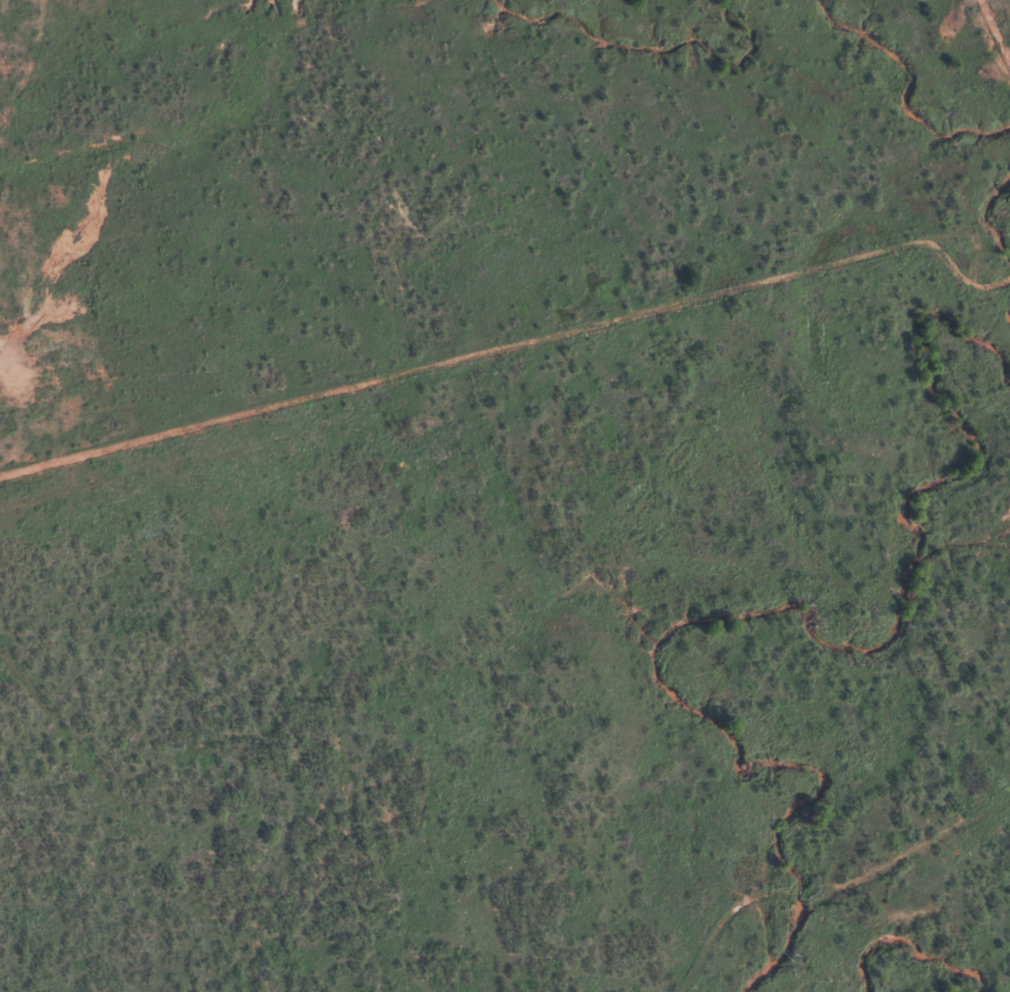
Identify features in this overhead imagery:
road: (164, 791)
road: (830, 898)

